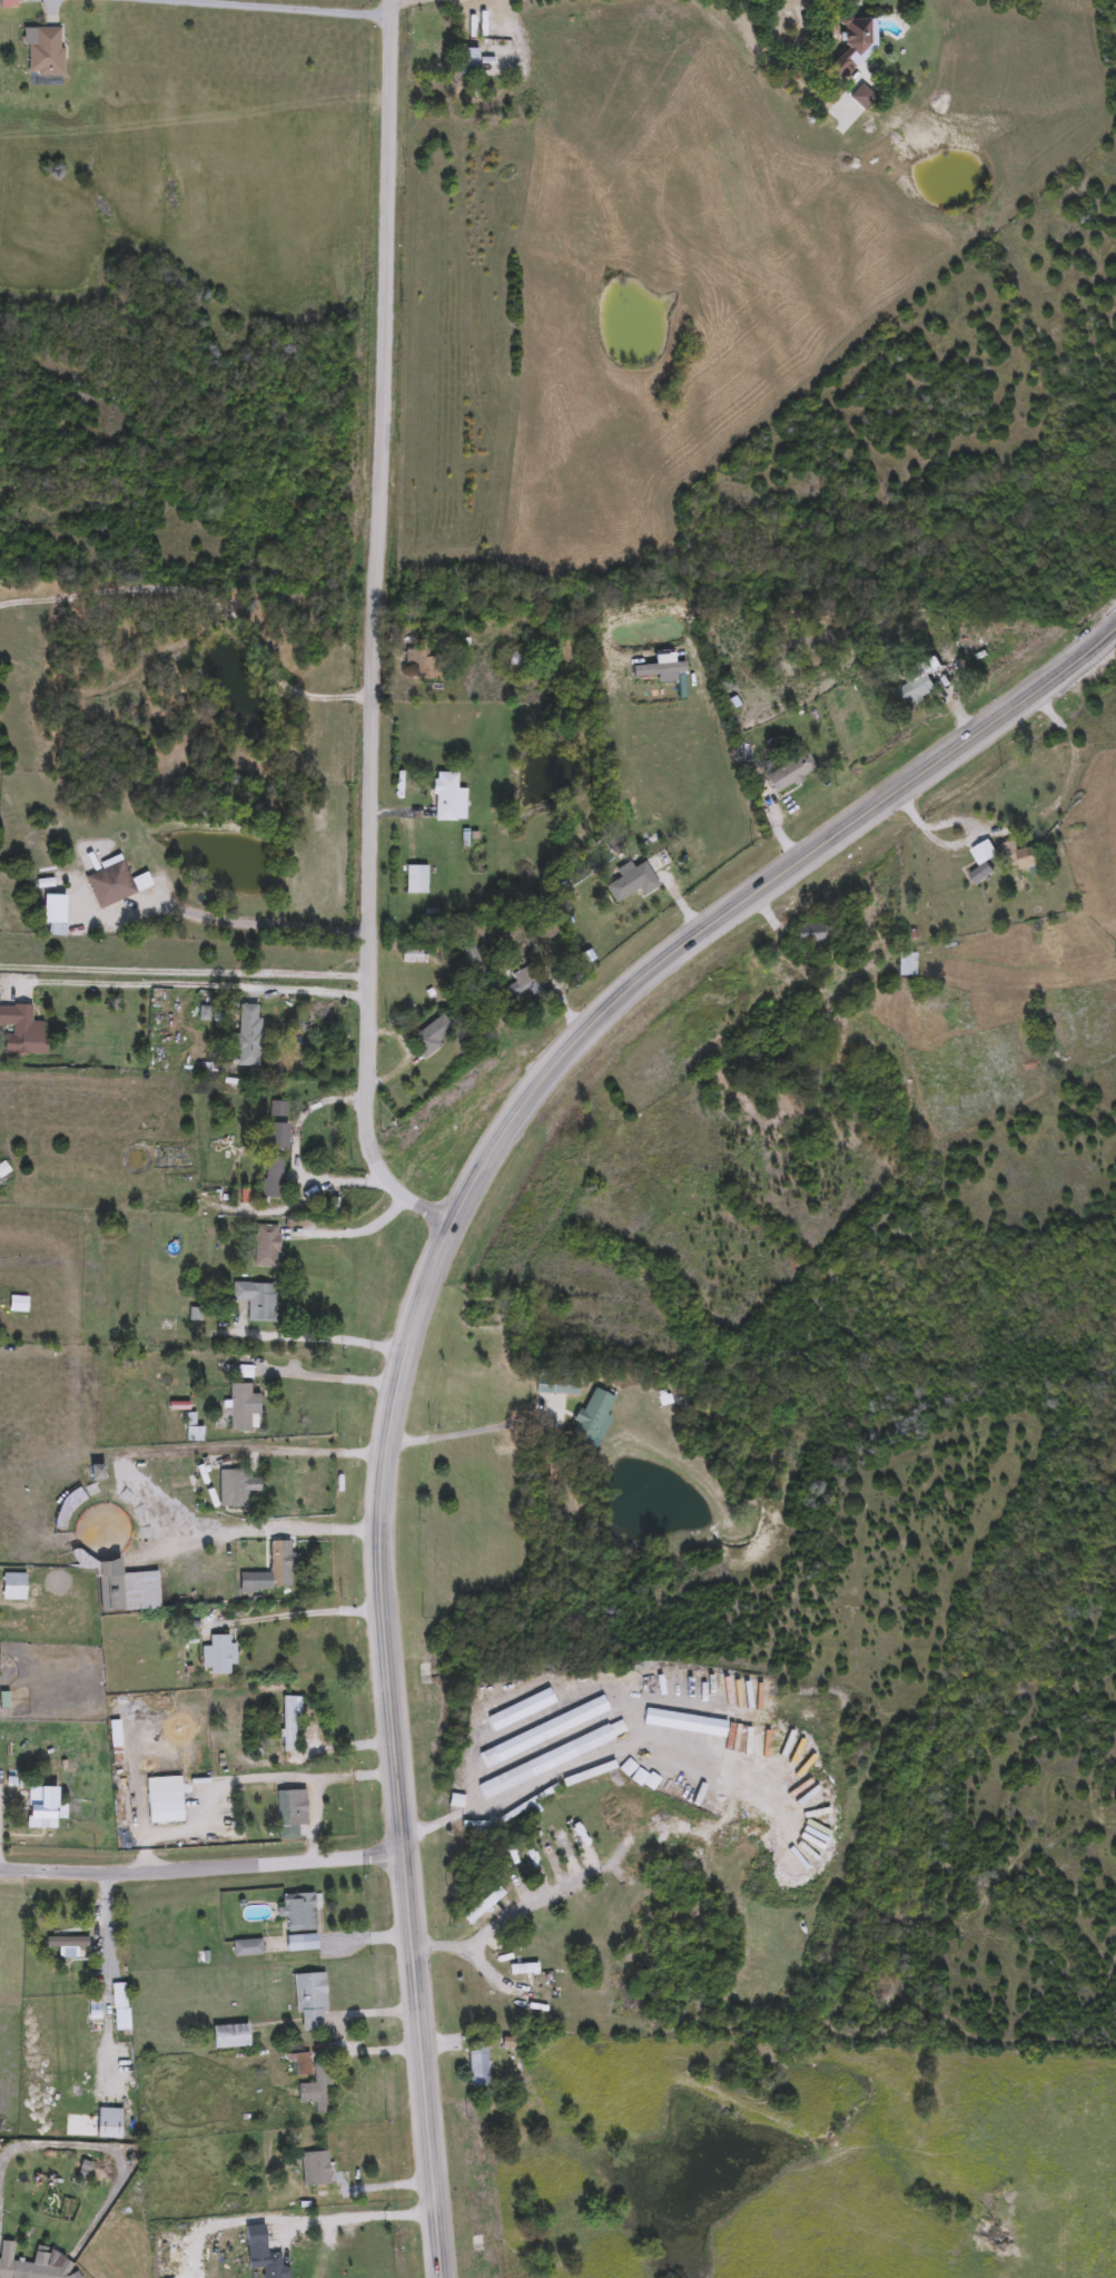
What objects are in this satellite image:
road: (753, 0)
building: (10, 4)
road: (297, 7)
road: (802, 40)
building: (852, 47)
building: (47, 52)
building: (471, 62)
road: (207, 596)
road: (376, 632)
building: (427, 664)
building: (517, 664)
building: (918, 684)
building: (792, 775)
building: (450, 799)
road: (1027, 824)
building: (1017, 856)
building: (417, 880)
building: (633, 884)
building: (111, 885)
road: (260, 924)
building: (58, 926)
building: (813, 937)
building: (416, 955)
road: (185, 971)
building: (524, 985)
road: (195, 986)
building: (23, 1032)
building: (433, 1035)
building: (249, 1037)
building: (276, 1159)
road: (345, 1182)
road: (361, 1231)
building: (267, 1247)
road: (422, 1297)
building: (256, 1300)
building: (20, 1306)
road: (327, 1338)
road: (328, 1377)
building: (559, 1385)
building: (245, 1408)
building: (593, 1417)
road: (470, 1432)
building: (196, 1435)
road: (304, 1452)
building: (238, 1489)
road: (327, 1528)
building: (277, 1570)
road: (302, 1616)
building: (218, 1657)
building: (290, 1725)
building: (215, 1740)
road: (244, 1771)
building: (31, 1791)
building: (166, 1807)
building: (289, 1815)
road: (315, 1815)
building: (626, 1820)
road: (203, 1868)
road: (520, 1907)
building: (484, 1911)
building: (300, 1922)
building: (69, 1944)
building: (249, 1950)
building: (525, 1971)
building: (313, 2002)
road: (333, 2029)
building: (231, 2038)
building: (480, 2065)
building: (317, 2090)
building: (316, 2170)
road: (350, 2219)
building: (256, 2237)
building: (268, 2262)
building: (34, 2271)

